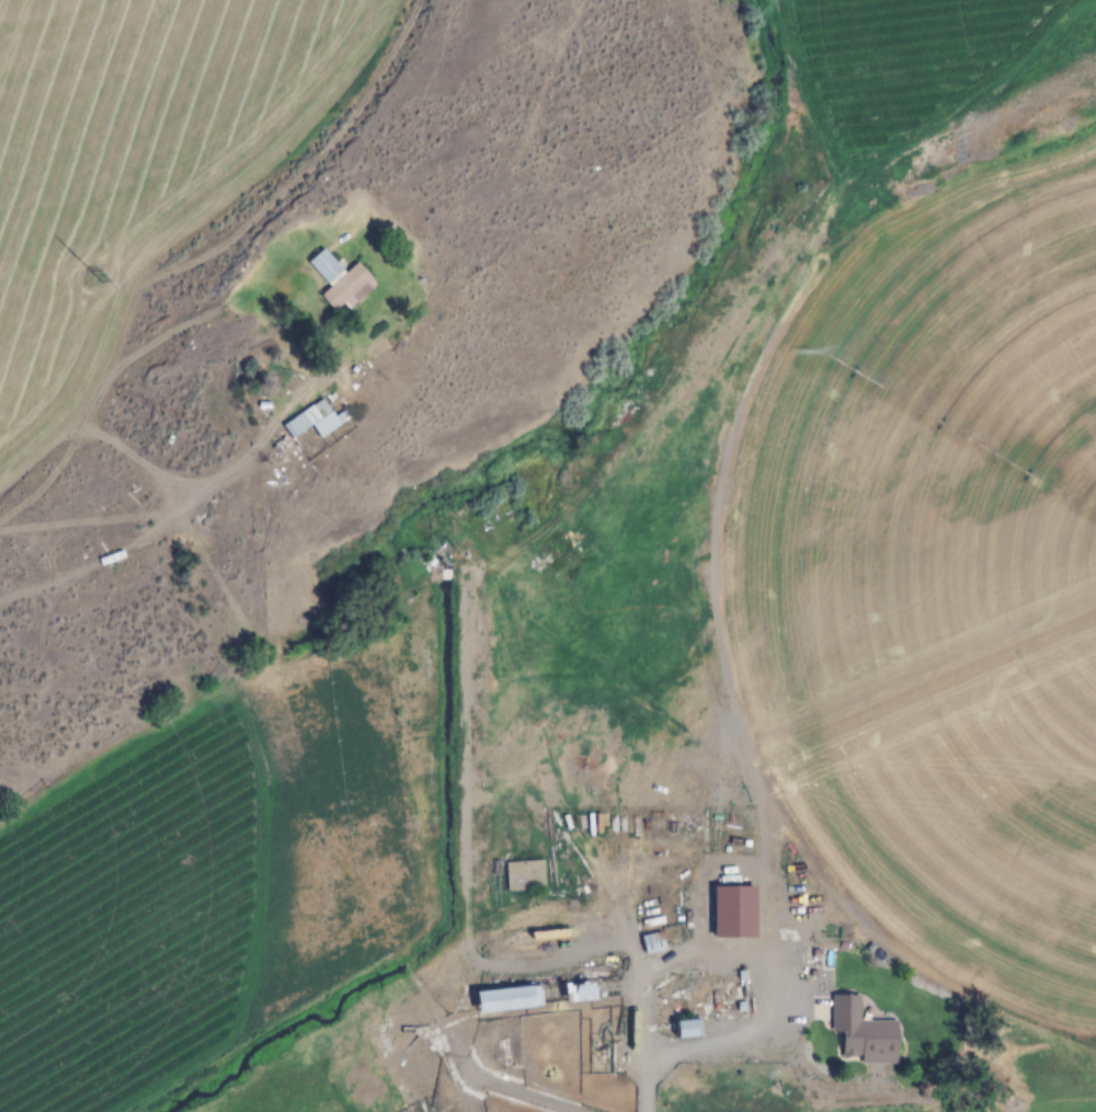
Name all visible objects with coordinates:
power tower: (94, 277)
building: (336, 279)
building: (313, 421)
building: (524, 876)
building: (650, 943)
building: (507, 1000)
building: (944, 1000)
building: (478, 1028)
building: (684, 1030)
road: (823, 1068)
building: (743, 1102)

